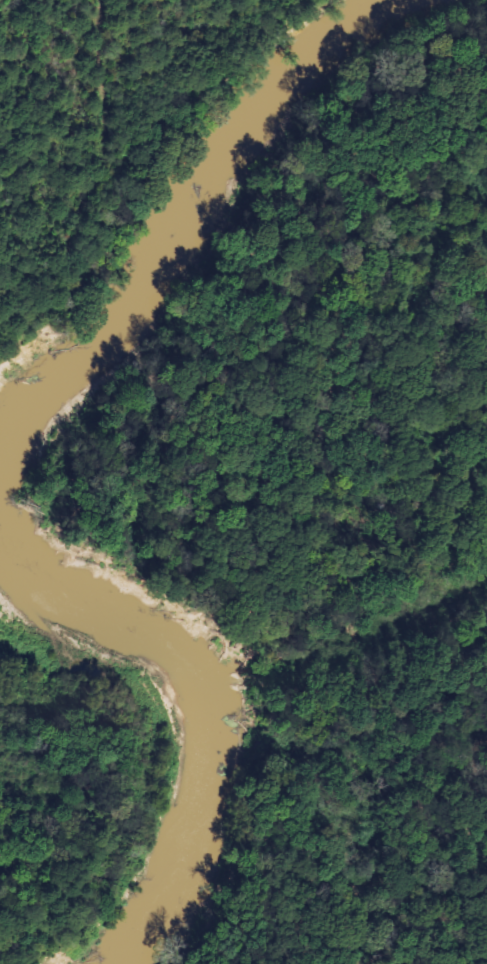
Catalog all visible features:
river: (183, 217)
river: (193, 707)

